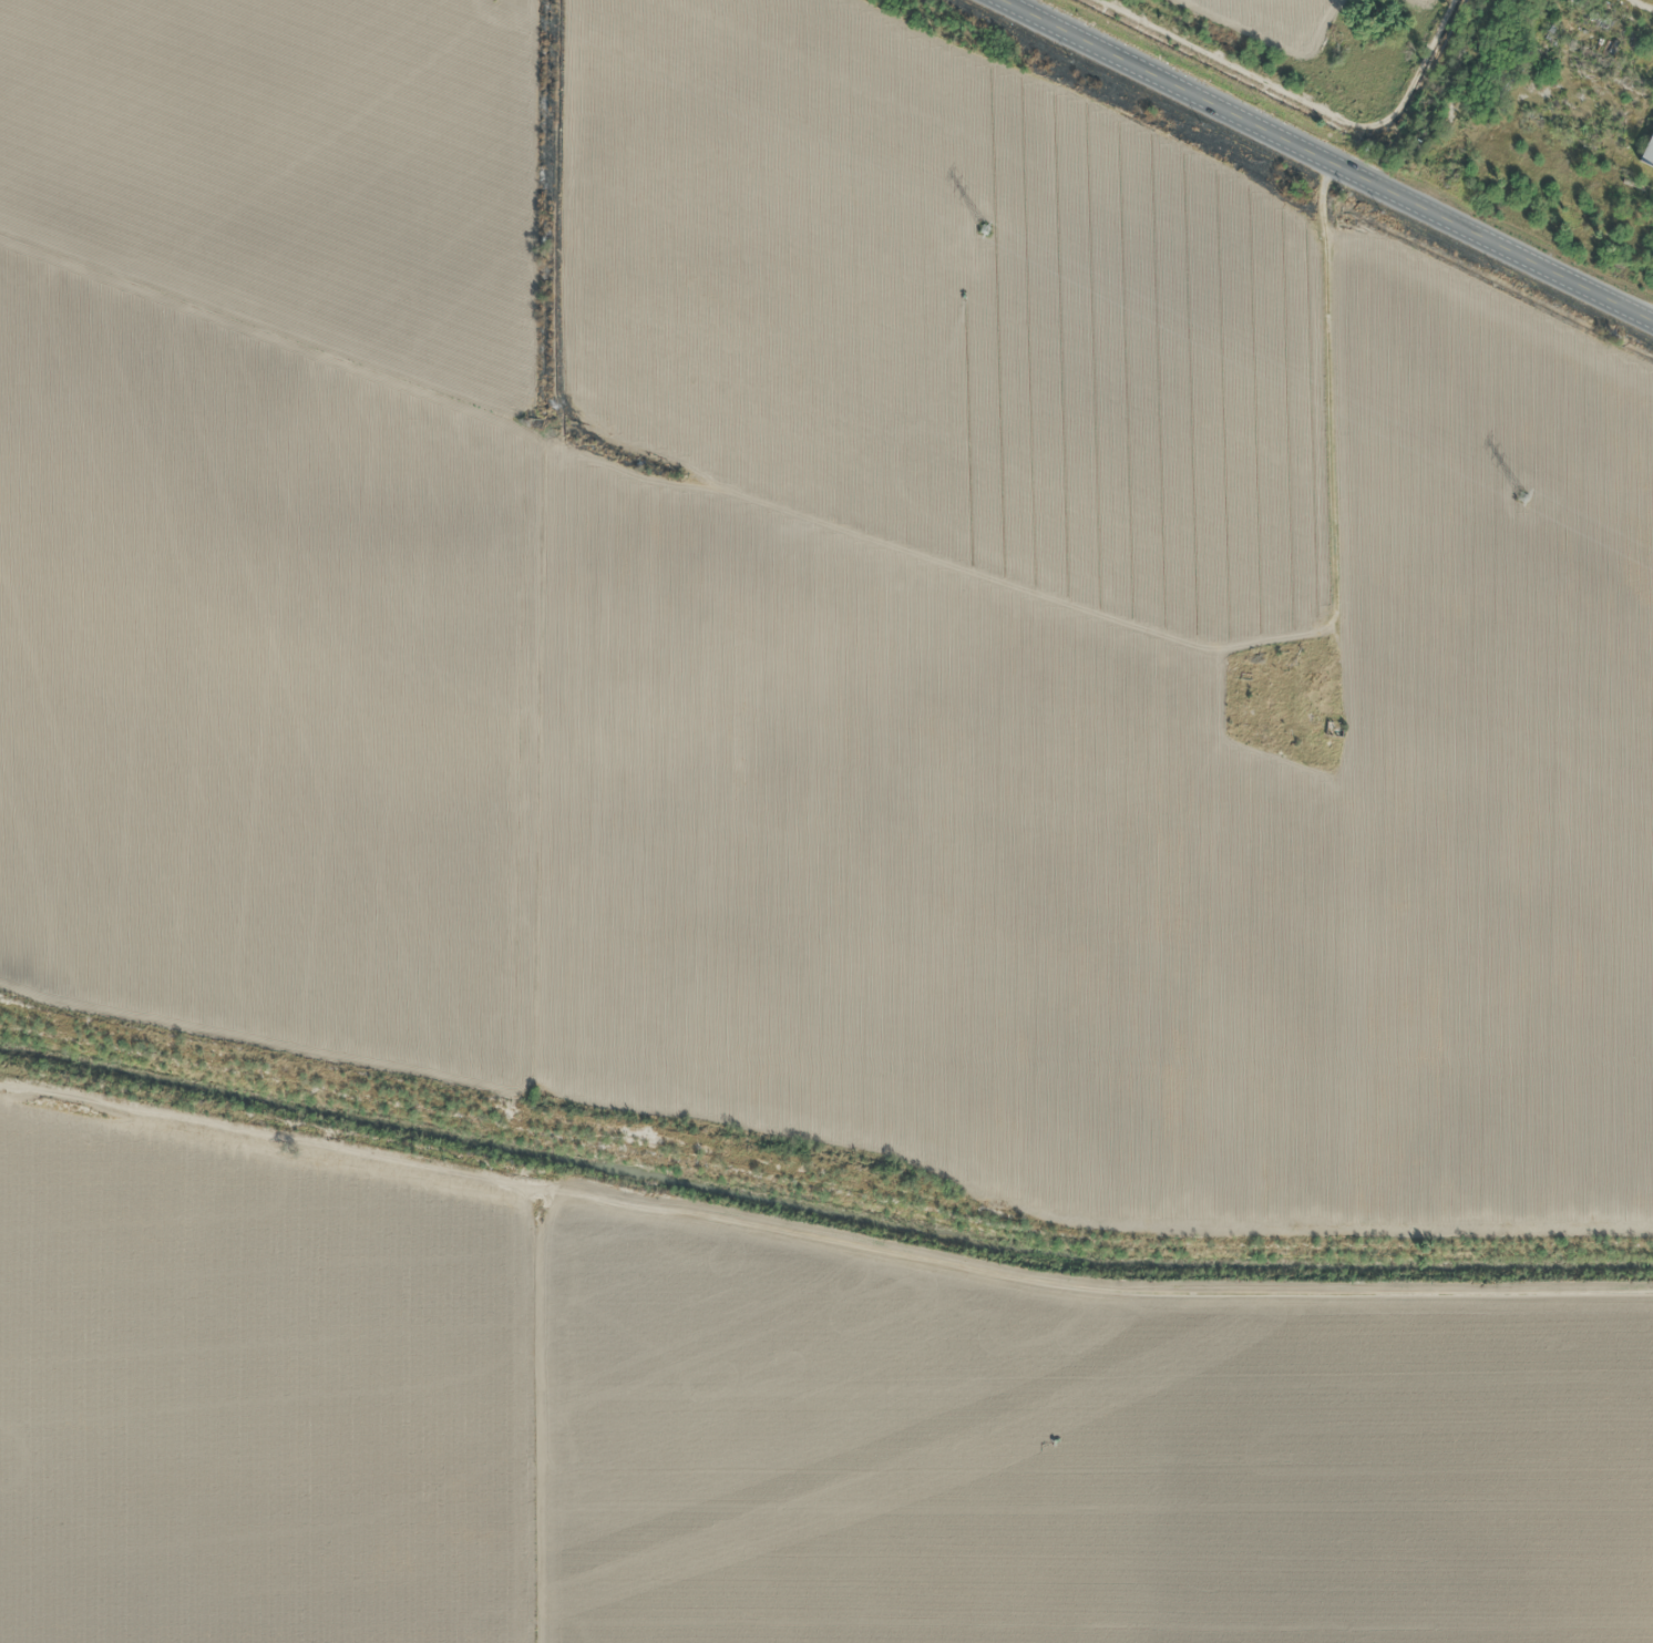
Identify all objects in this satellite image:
road: (1329, 160)
power tower: (984, 230)
power tower: (1519, 496)

